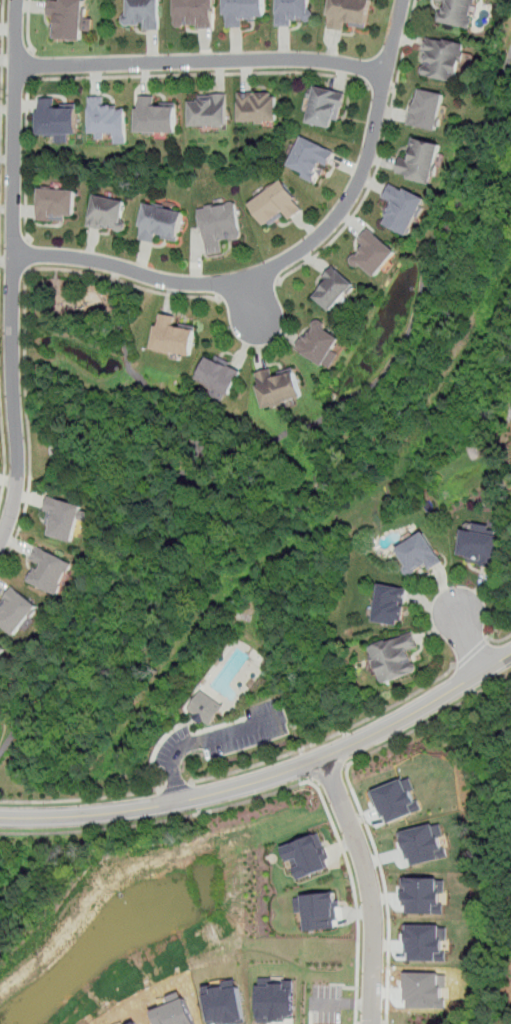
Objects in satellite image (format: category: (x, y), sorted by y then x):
building: (242, 11)
building: (294, 12)
building: (458, 12)
building: (347, 13)
building: (142, 14)
building: (194, 14)
building: (68, 18)
road: (27, 25)
road: (404, 46)
building: (442, 58)
road: (201, 60)
road: (31, 65)
road: (1, 67)
road: (120, 76)
road: (380, 87)
building: (258, 106)
building: (324, 106)
building: (427, 108)
building: (209, 109)
building: (156, 116)
building: (56, 117)
building: (107, 118)
building: (310, 159)
building: (420, 160)
road: (362, 201)
building: (277, 202)
building: (56, 203)
building: (402, 207)
building: (108, 212)
building: (160, 223)
building: (220, 224)
building: (372, 253)
road: (26, 255)
road: (282, 262)
road: (11, 271)
building: (333, 288)
road: (23, 323)
building: (172, 335)
building: (320, 342)
building: (218, 374)
building: (277, 386)
road: (361, 392)
road: (5, 451)
building: (63, 517)
building: (479, 545)
building: (420, 553)
building: (50, 570)
road: (107, 603)
building: (392, 603)
building: (15, 610)
road: (467, 634)
road: (498, 641)
building: (2, 648)
road: (471, 653)
building: (394, 656)
building: (0, 659)
building: (207, 707)
road: (429, 721)
road: (176, 727)
road: (221, 734)
road: (328, 737)
road: (327, 772)
road: (348, 776)
road: (269, 777)
road: (175, 784)
road: (177, 787)
road: (82, 799)
road: (158, 820)
building: (305, 855)
road: (369, 887)
road: (354, 896)
road: (388, 902)
building: (316, 909)
building: (275, 998)
building: (223, 1002)
park: (405, 1019)

